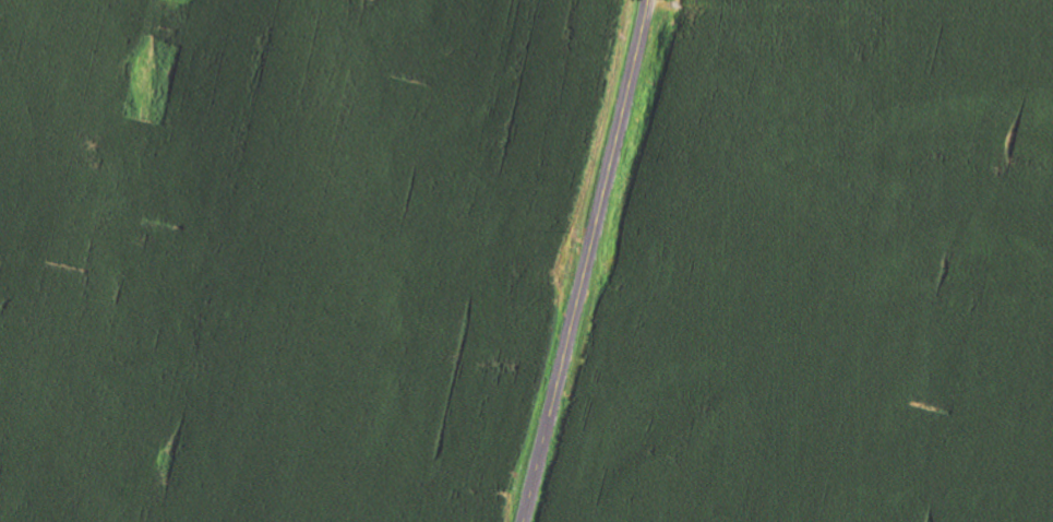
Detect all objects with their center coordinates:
road: (587, 261)

